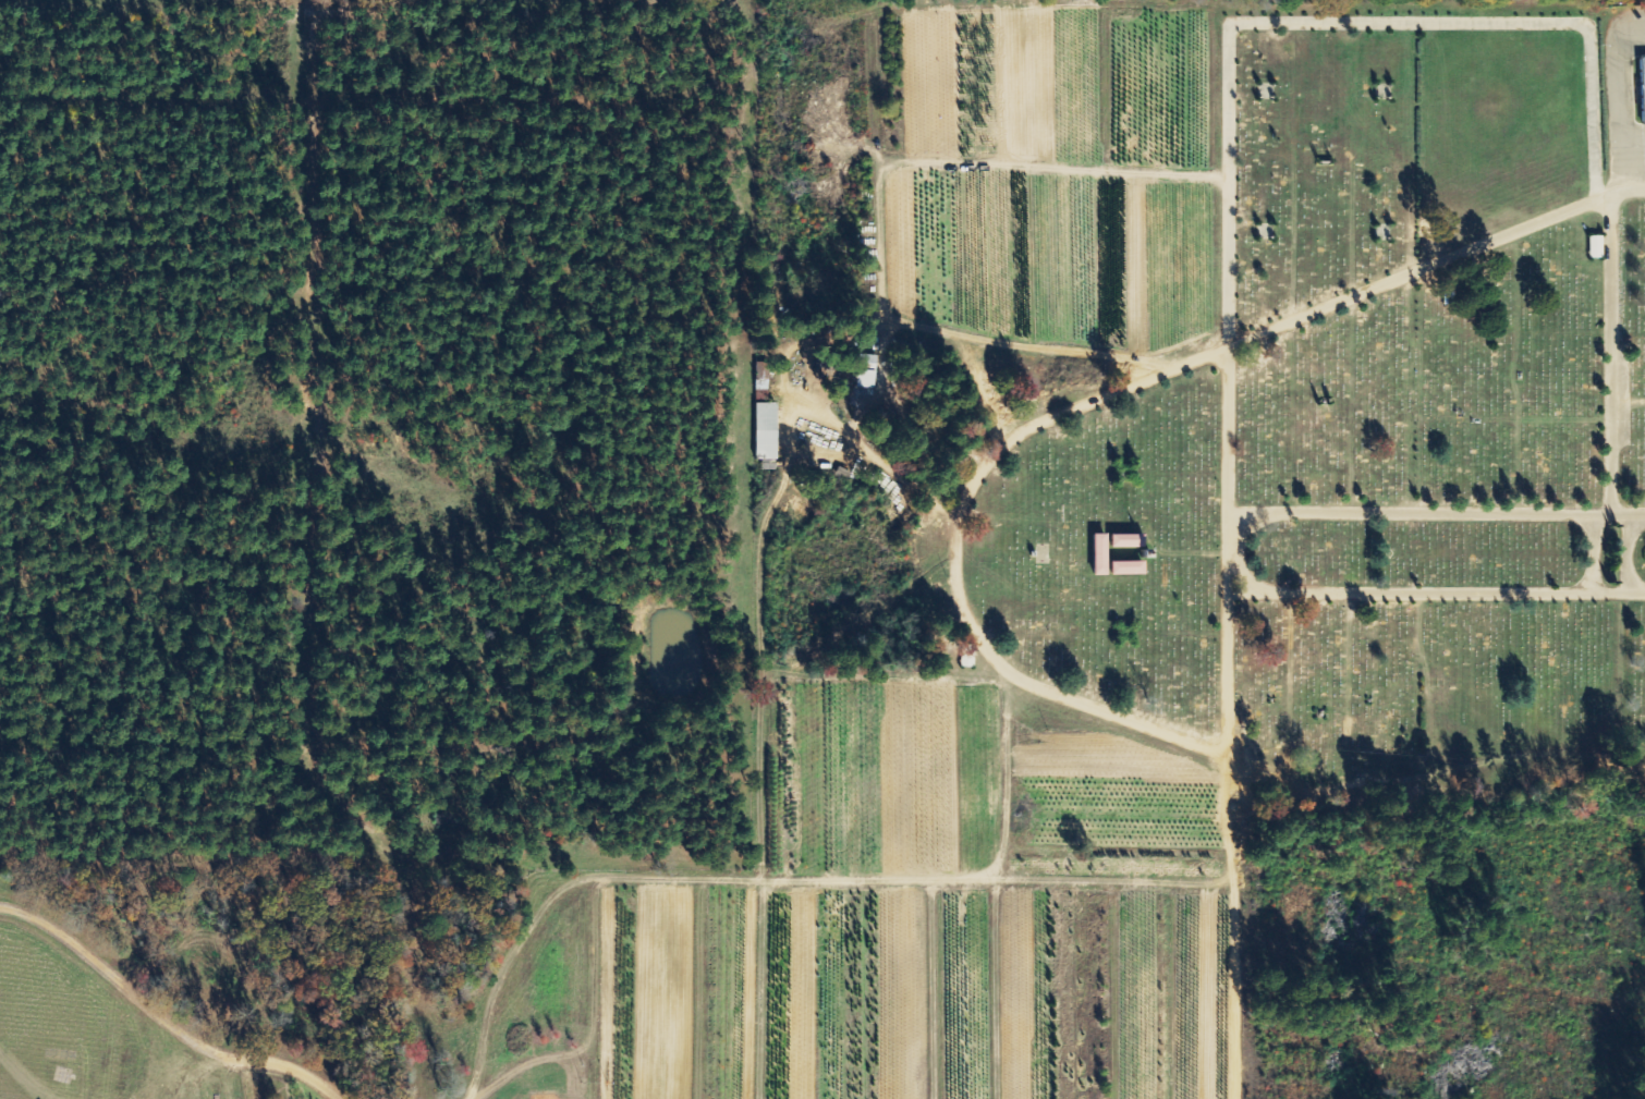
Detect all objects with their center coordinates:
road: (1288, 22)
building: (1643, 83)
building: (1597, 247)
road: (1277, 328)
building: (868, 371)
building: (763, 377)
building: (767, 431)
park: (1366, 431)
road: (1437, 513)
building: (1129, 541)
building: (1101, 555)
road: (1599, 555)
road: (1634, 555)
building: (1130, 569)
road: (1437, 593)

